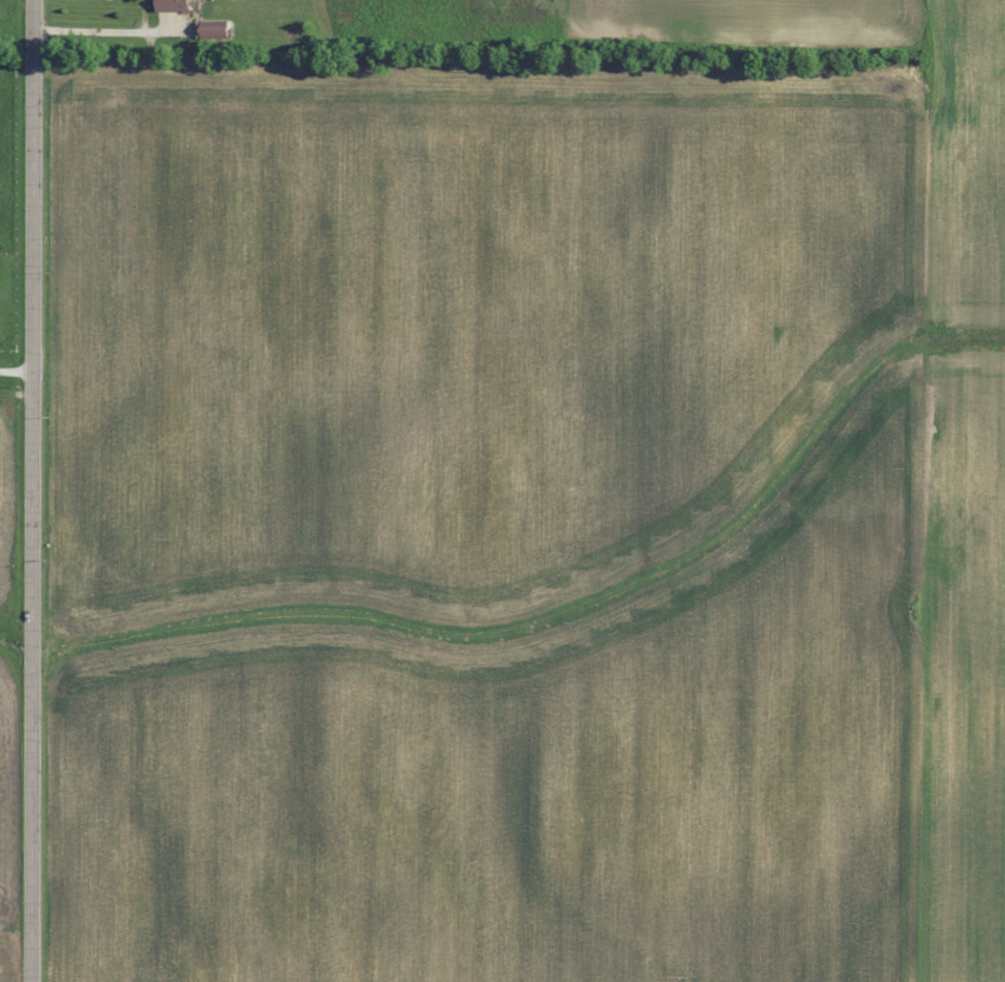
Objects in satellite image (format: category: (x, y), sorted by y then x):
building: (175, 5)
building: (218, 30)
road: (101, 31)
road: (17, 371)
road: (33, 490)

